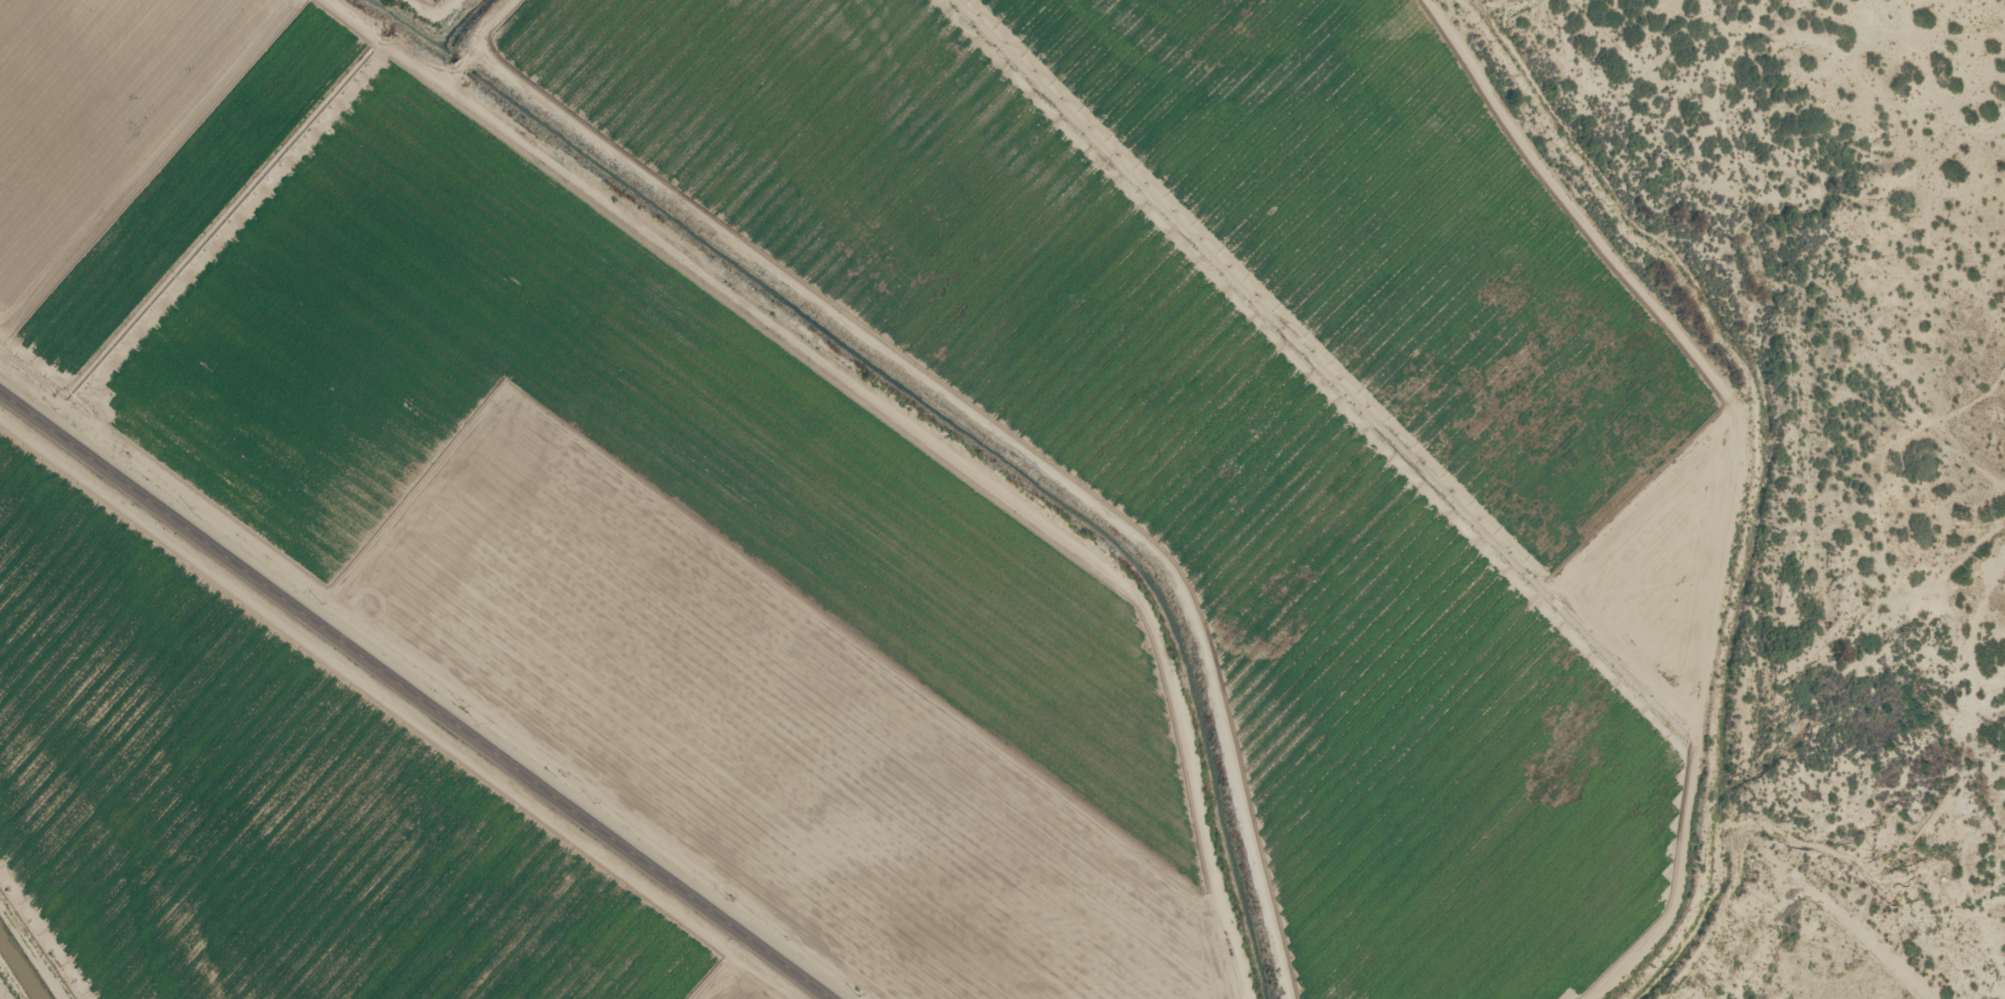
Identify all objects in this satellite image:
road: (416, 694)
road: (1876, 952)

